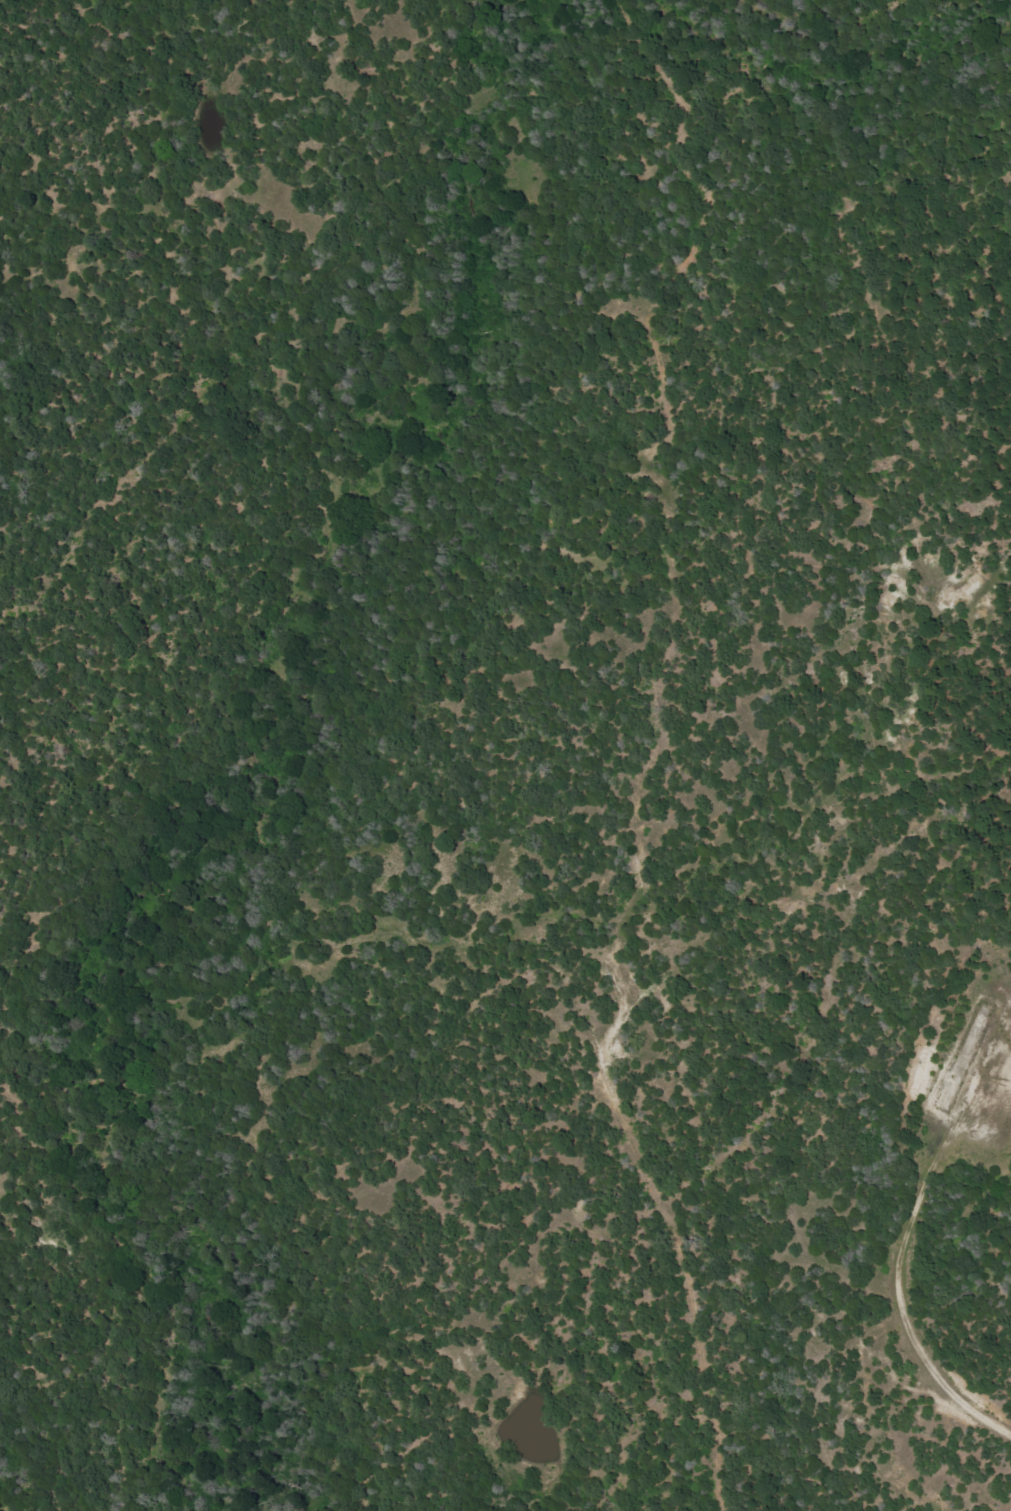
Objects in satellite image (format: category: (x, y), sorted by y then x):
road: (969, 1185)
road: (899, 1265)

